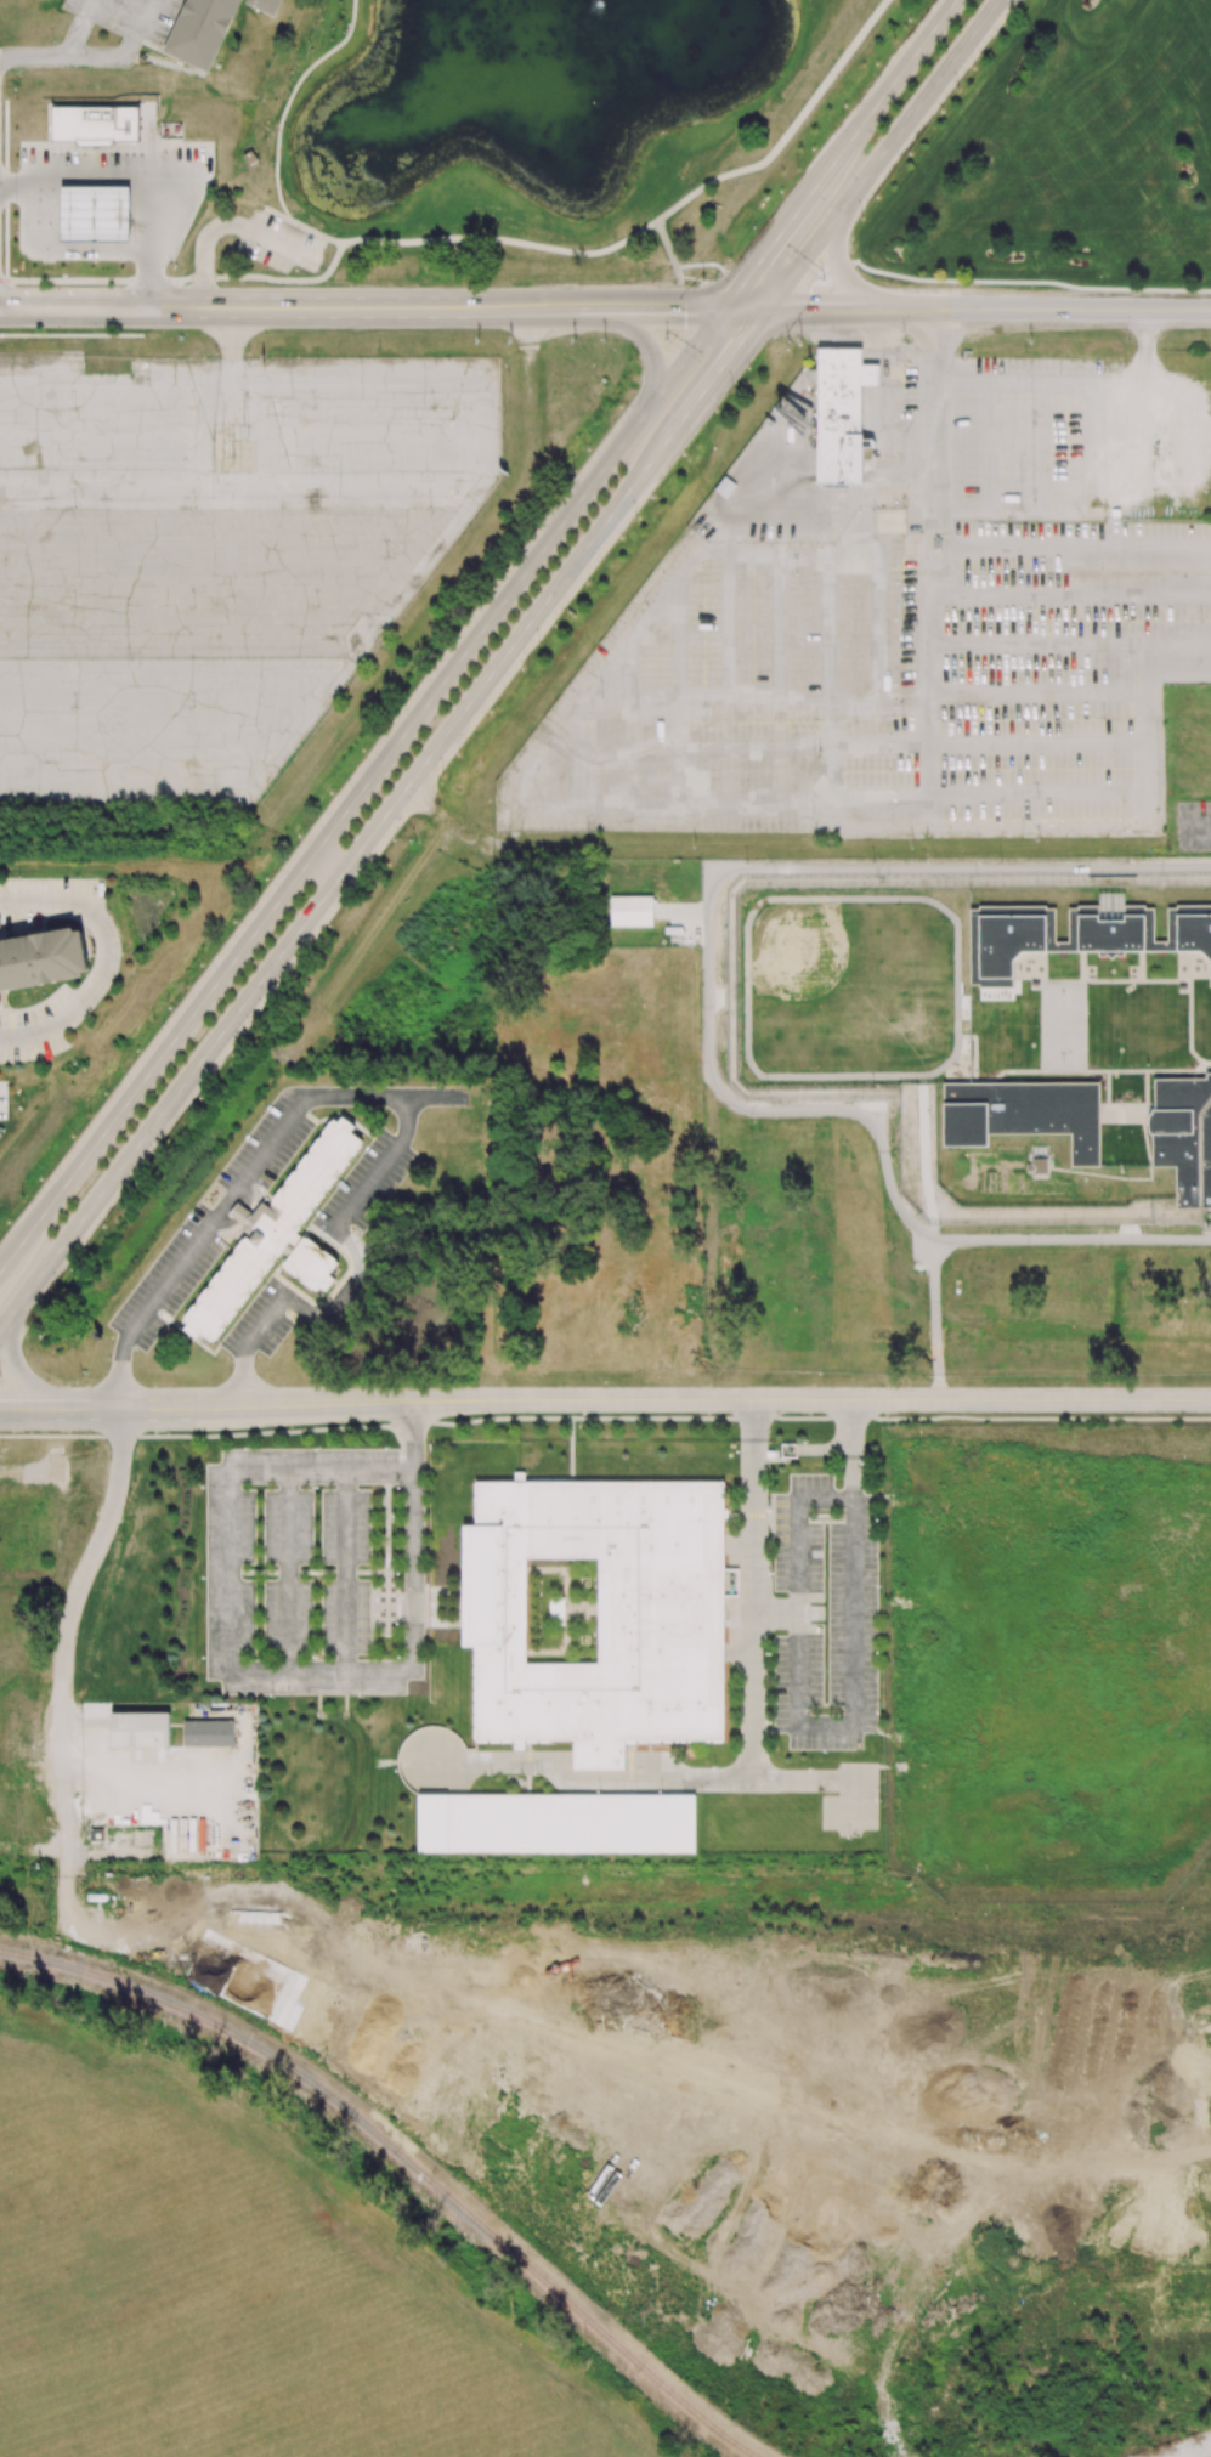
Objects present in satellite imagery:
fountain: (526, 7)
fountain: (571, 21)
road: (78, 28)
building: (208, 29)
street lamp: (341, 34)
street lamp: (51, 40)
street lamp: (894, 41)
road: (124, 51)
road: (33, 56)
fountain: (577, 67)
road: (888, 90)
street lamp: (288, 91)
street lamp: (960, 91)
road: (290, 98)
building: (95, 123)
road: (790, 131)
street lamp: (198, 137)
park: (531, 141)
building: (94, 142)
road: (882, 153)
building: (249, 158)
park: (1060, 160)
street lamp: (271, 163)
street lamp: (15, 166)
street lamp: (797, 169)
road: (140, 171)
building: (94, 214)
road: (278, 215)
street lamp: (861, 219)
street lamp: (306, 222)
street lamp: (15, 231)
road: (312, 231)
road: (500, 239)
street lamp: (217, 243)
road: (279, 244)
road: (771, 244)
parking lot: (285, 247)
road: (204, 250)
road: (673, 262)
street lamp: (169, 264)
street lamp: (266, 270)
road: (841, 271)
street lamp: (319, 272)
street lamp: (820, 278)
street lamp: (704, 279)
road: (936, 281)
road: (182, 282)
street lamp: (26, 285)
street lamp: (113, 285)
road: (78, 307)
road: (310, 307)
road: (520, 307)
road: (650, 307)
traffic signals: (723, 308)
road: (743, 308)
traffic signals: (765, 308)
road: (833, 308)
road: (1056, 308)
street lamp: (94, 330)
street lamp: (666, 338)
road: (645, 340)
street lamp: (787, 340)
street lamp: (902, 340)
street lamp: (1127, 340)
road: (232, 360)
road: (1143, 364)
road: (723, 366)
road: (417, 373)
street lamp: (732, 391)
street lamp: (621, 407)
building: (841, 413)
street lamp: (1034, 423)
road: (670, 435)
road: (119, 442)
street lamp: (684, 454)
street lamp: (572, 471)
street lamp: (1035, 499)
street lamp: (902, 505)
street lamp: (1019, 509)
road: (1056, 510)
street lamp: (635, 519)
road: (436, 530)
road: (208, 559)
parking lot: (211, 559)
street lamp: (493, 578)
parking lot: (890, 635)
street lamp: (538, 647)
street lamp: (380, 729)
street lamp: (442, 775)
road: (361, 791)
road: (421, 796)
parking lot: (1194, 826)
road: (1198, 826)
road: (958, 868)
road: (329, 887)
building: (632, 911)
road: (949, 913)
building: (1075, 935)
road: (1046, 953)
building: (41, 958)
road: (108, 959)
road: (1082, 966)
road: (1142, 966)
building: (1210, 978)
road: (1206, 979)
road: (1164, 980)
park: (850, 987)
building: (0, 1002)
park: (1063, 1025)
road: (1041, 1026)
road: (1085, 1026)
road: (974, 1049)
road: (1091, 1071)
road: (1108, 1087)
road: (1147, 1087)
road: (385, 1098)
building: (1024, 1115)
road: (1148, 1119)
road: (878, 1133)
building: (1184, 1136)
building: (1037, 1166)
road: (1126, 1178)
building: (271, 1229)
building: (311, 1264)
road: (936, 1321)
road: (16, 1361)
road: (813, 1403)
road: (206, 1406)
building: (596, 1613)
road: (774, 1613)
road: (67, 1623)
road: (258, 1670)
building: (140, 1729)
road: (847, 1731)
building: (208, 1733)
road: (752, 1744)
road: (135, 1765)
road: (779, 1778)
building: (556, 1823)
railway: (404, 2158)

